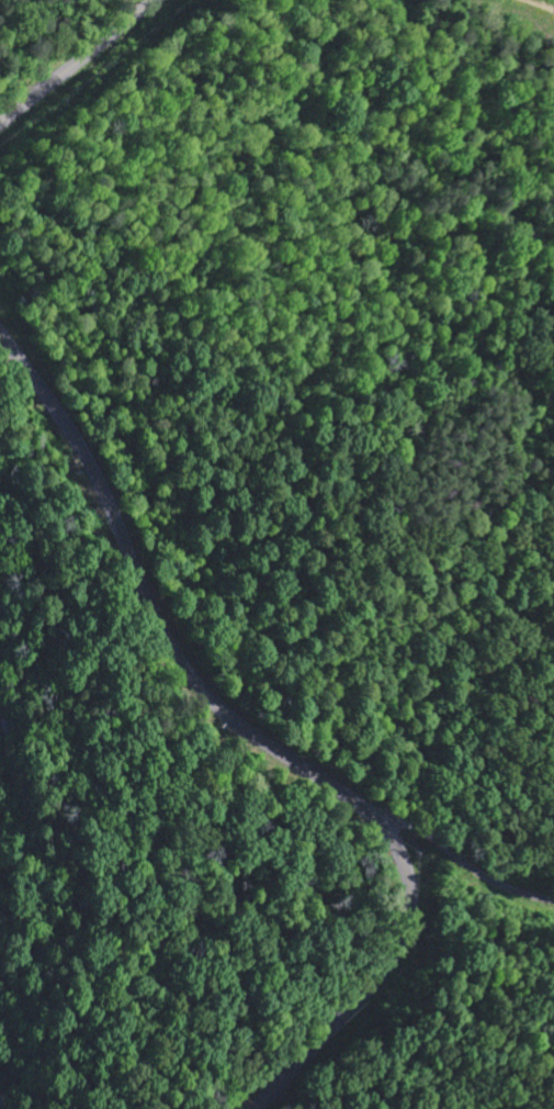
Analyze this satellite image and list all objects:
road: (71, 65)
road: (261, 739)
road: (459, 864)

